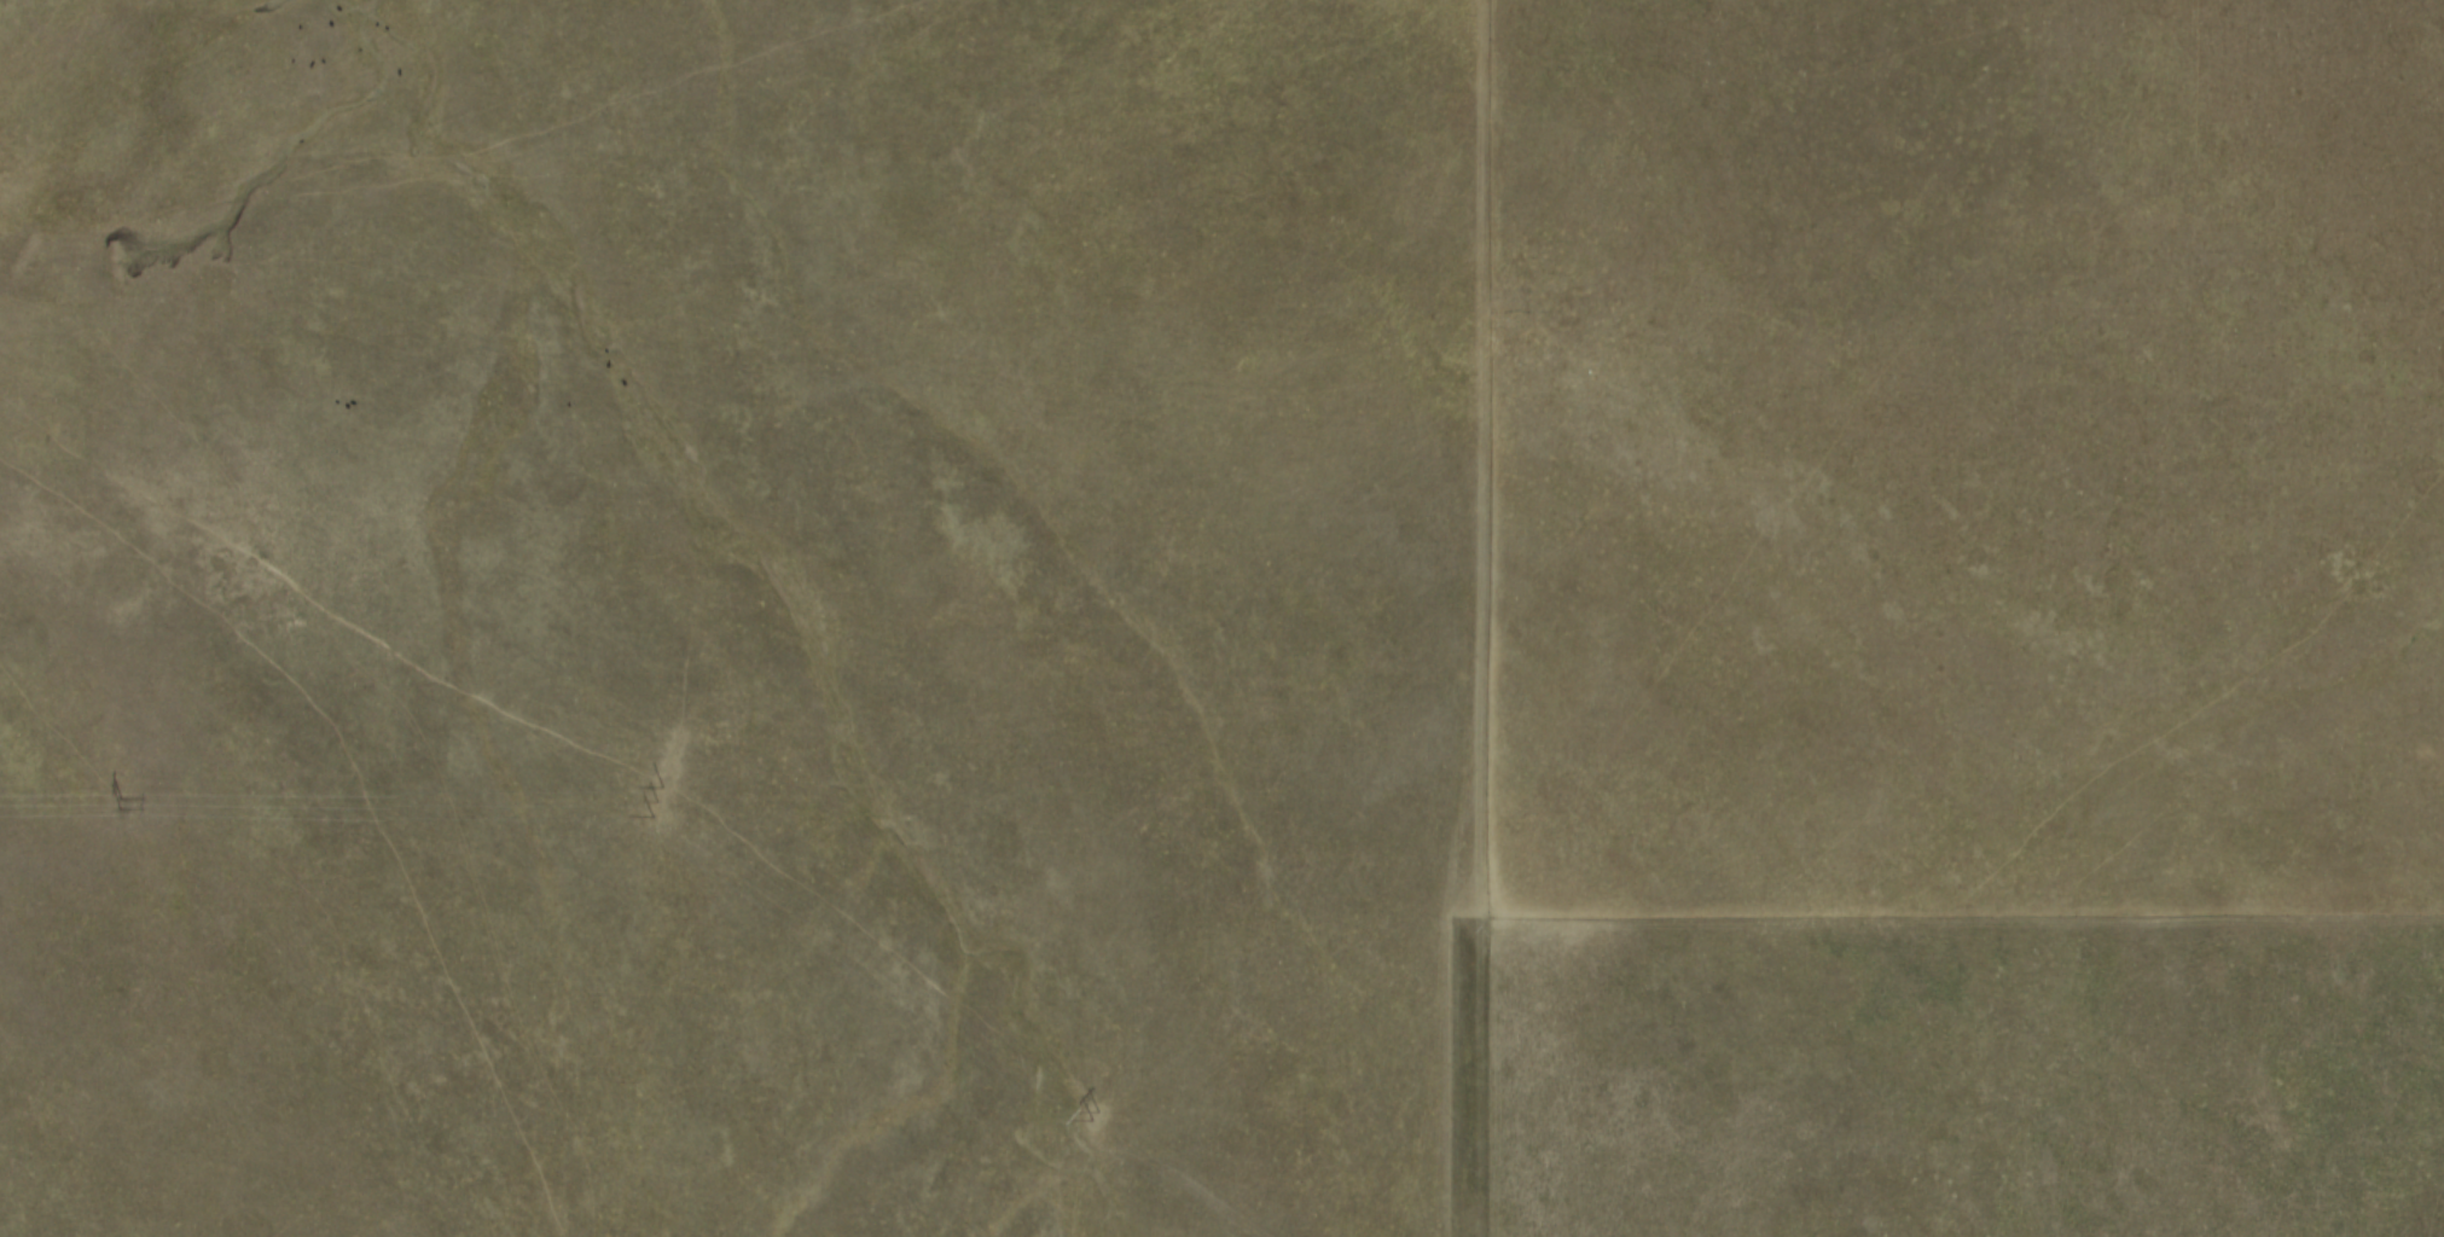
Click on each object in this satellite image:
power tower: (655, 801)
power tower: (118, 803)
power tower: (1091, 1115)

